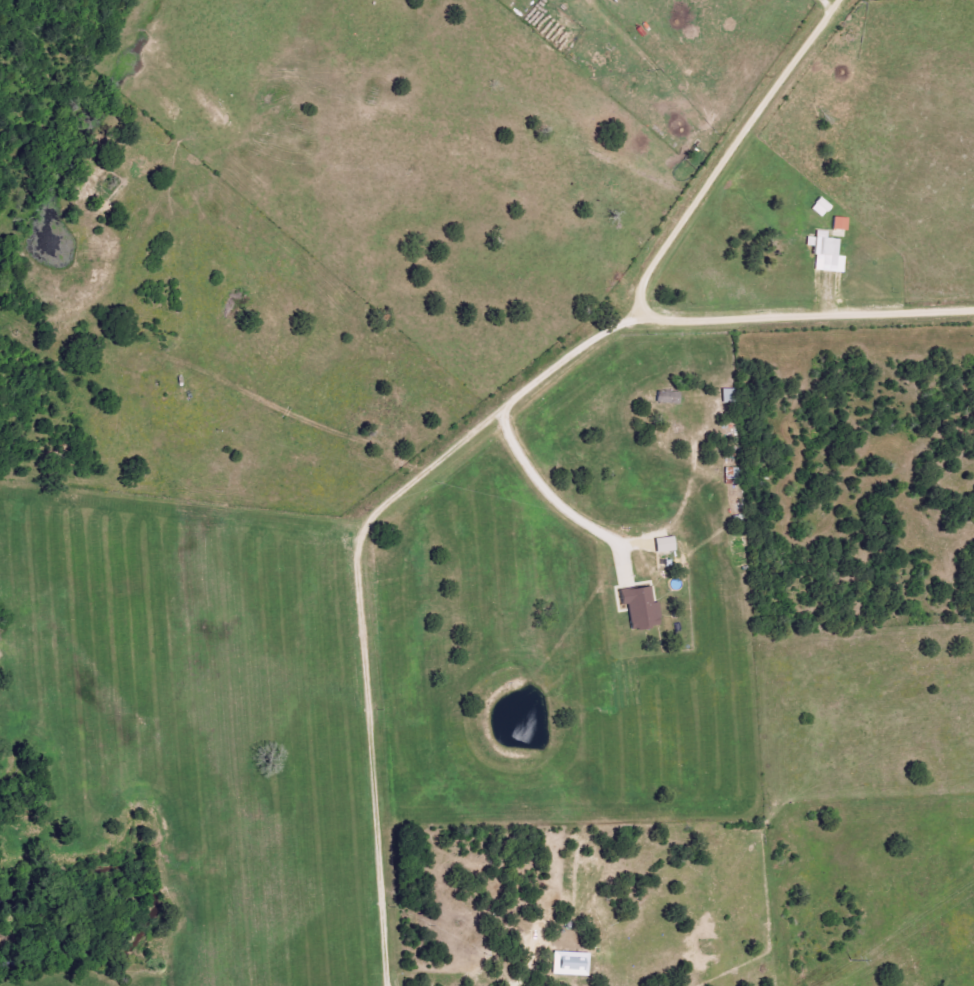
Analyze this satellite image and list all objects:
road: (729, 151)
building: (820, 207)
building: (839, 223)
building: (826, 252)
building: (667, 397)
road: (449, 451)
building: (664, 545)
building: (640, 607)
power tower: (849, 960)
building: (570, 964)

